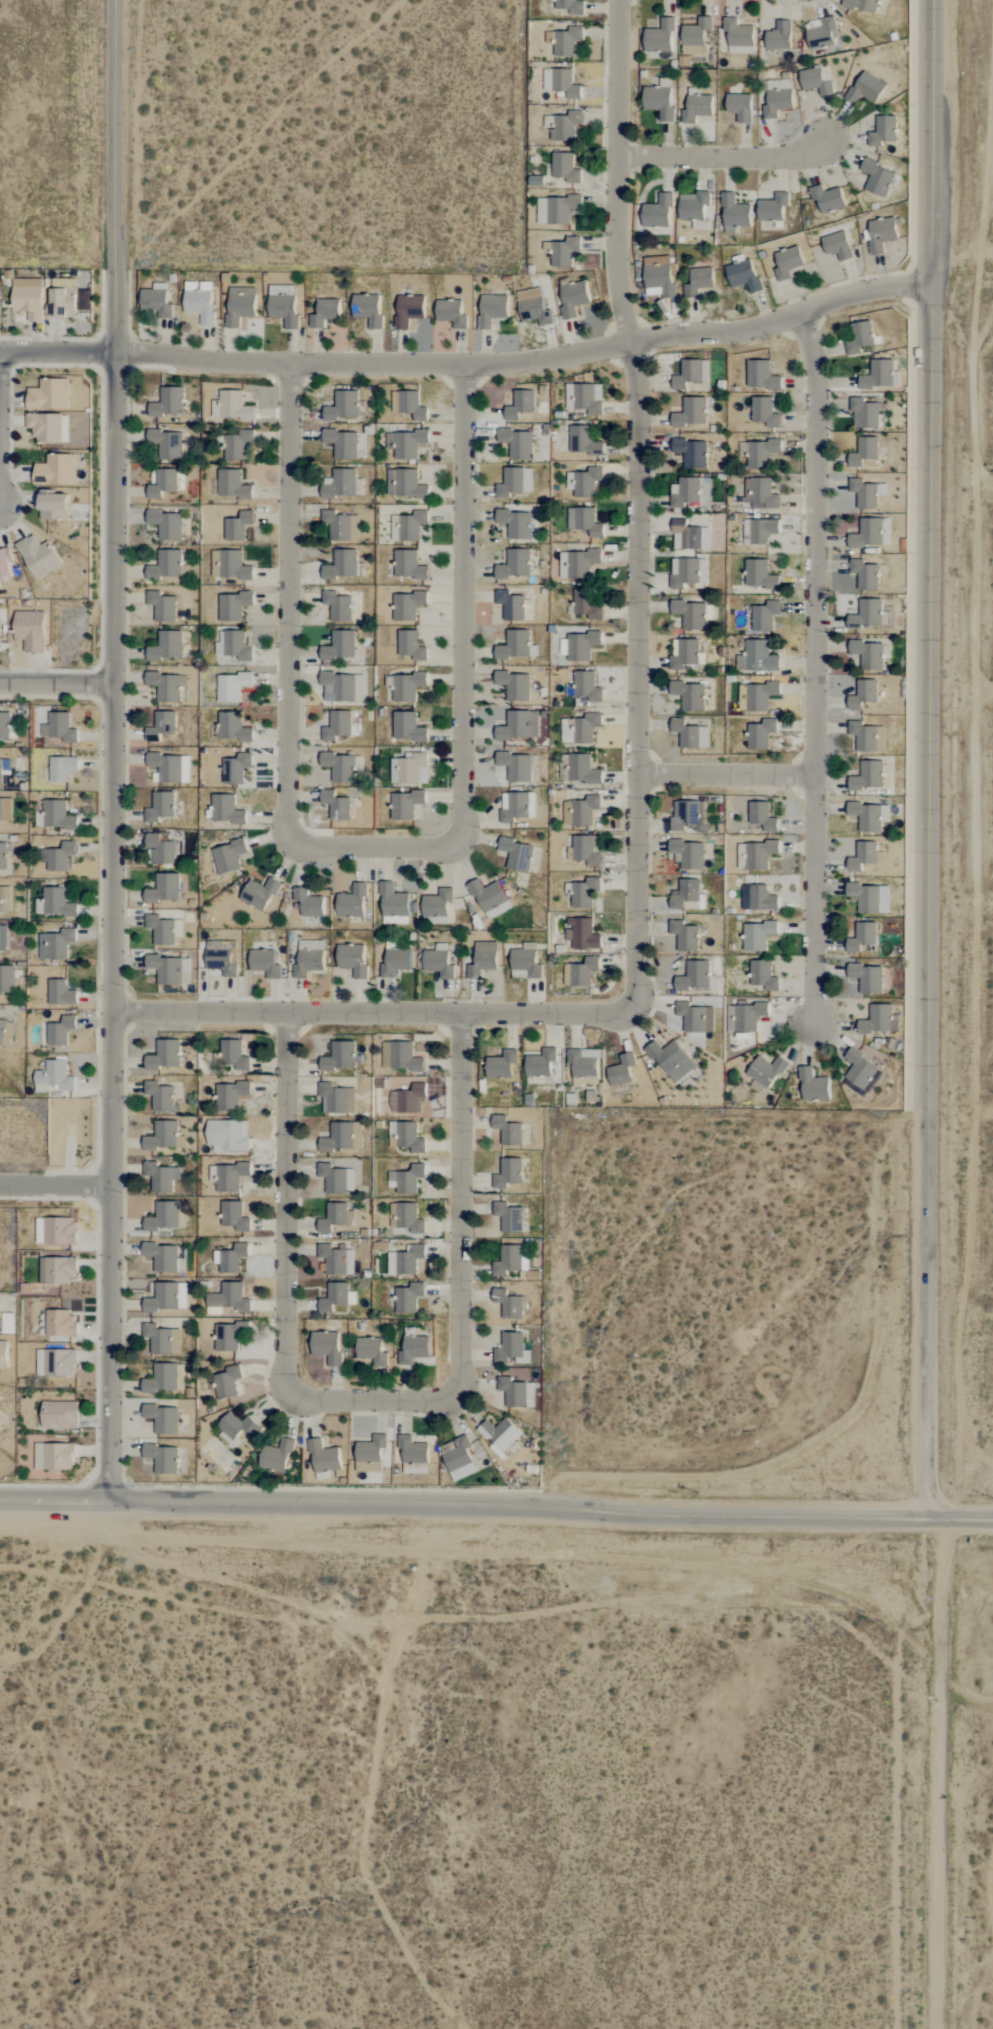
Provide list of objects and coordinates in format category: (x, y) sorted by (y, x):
building: (862, 5)
building: (570, 6)
building: (821, 33)
building: (738, 34)
building: (695, 36)
building: (779, 36)
building: (660, 37)
building: (567, 42)
building: (817, 80)
building: (561, 83)
building: (866, 89)
building: (778, 98)
building: (659, 102)
building: (740, 107)
building: (697, 108)
building: (564, 126)
building: (884, 131)
road: (726, 155)
building: (565, 168)
building: (877, 179)
building: (827, 199)
building: (773, 208)
building: (556, 210)
building: (658, 213)
building: (735, 214)
building: (880, 235)
building: (837, 246)
building: (563, 252)
building: (787, 263)
building: (743, 276)
building: (659, 278)
building: (698, 282)
building: (27, 298)
building: (62, 298)
building: (573, 299)
building: (156, 301)
building: (199, 302)
building: (283, 305)
building: (240, 306)
building: (533, 307)
building: (367, 310)
building: (409, 310)
building: (492, 310)
building: (324, 313)
building: (451, 314)
building: (859, 336)
road: (469, 362)
building: (688, 374)
building: (878, 374)
building: (761, 375)
building: (49, 394)
building: (585, 397)
building: (168, 402)
building: (394, 402)
building: (520, 404)
building: (412, 405)
building: (231, 406)
building: (343, 406)
building: (764, 411)
building: (690, 412)
building: (865, 413)
building: (46, 427)
road: (1, 428)
building: (583, 441)
building: (518, 442)
building: (167, 443)
building: (342, 443)
building: (405, 443)
building: (237, 445)
building: (864, 451)
building: (692, 452)
building: (760, 452)
building: (56, 470)
building: (515, 481)
building: (584, 481)
building: (162, 482)
building: (340, 483)
building: (232, 484)
building: (405, 484)
building: (760, 493)
building: (864, 493)
road: (634, 501)
building: (53, 505)
building: (584, 521)
building: (515, 523)
building: (166, 524)
building: (341, 525)
building: (238, 526)
building: (410, 526)
building: (759, 531)
building: (870, 533)
building: (686, 535)
building: (38, 556)
building: (5, 562)
building: (577, 563)
building: (515, 564)
building: (166, 565)
building: (230, 565)
building: (342, 565)
building: (408, 565)
building: (686, 572)
building: (759, 574)
building: (865, 574)
building: (588, 603)
building: (233, 605)
building: (408, 605)
building: (511, 605)
building: (162, 606)
building: (337, 606)
building: (867, 614)
building: (765, 615)
building: (691, 616)
building: (30, 630)
building: (235, 645)
building: (411, 645)
building: (515, 645)
building: (582, 645)
building: (166, 646)
building: (340, 646)
building: (685, 653)
building: (869, 654)
building: (757, 657)
road: (814, 667)
road: (59, 684)
building: (166, 685)
building: (515, 685)
building: (407, 686)
building: (587, 686)
building: (232, 687)
building: (343, 687)
building: (863, 694)
building: (689, 695)
building: (757, 696)
building: (161, 726)
building: (337, 726)
building: (514, 726)
building: (4, 727)
building: (59, 727)
building: (233, 727)
building: (407, 727)
building: (580, 729)
building: (761, 733)
building: (690, 734)
building: (864, 736)
road: (117, 750)
road: (928, 758)
building: (3, 766)
building: (339, 766)
building: (516, 766)
building: (171, 767)
building: (239, 767)
building: (61, 768)
building: (409, 769)
building: (582, 769)
road: (724, 772)
building: (869, 776)
building: (405, 804)
building: (336, 805)
building: (160, 807)
building: (5, 809)
building: (226, 809)
building: (582, 811)
building: (57, 815)
building: (688, 816)
building: (762, 816)
building: (870, 816)
road: (373, 846)
building: (160, 850)
building: (585, 851)
building: (517, 854)
building: (688, 854)
building: (3, 855)
building: (755, 855)
building: (228, 856)
building: (863, 856)
building: (58, 857)
building: (164, 888)
building: (585, 892)
building: (259, 894)
building: (688, 896)
building: (490, 898)
building: (762, 898)
building: (870, 898)
building: (5, 899)
building: (352, 902)
building: (55, 903)
building: (308, 903)
building: (437, 903)
road: (992, 903)
building: (393, 905)
building: (163, 929)
building: (582, 934)
building: (685, 935)
building: (758, 935)
building: (862, 937)
building: (3, 938)
building: (56, 944)
building: (309, 958)
building: (352, 959)
building: (483, 959)
building: (223, 961)
building: (439, 961)
building: (395, 962)
building: (265, 963)
building: (525, 963)
building: (169, 969)
building: (580, 972)
building: (763, 975)
building: (694, 977)
building: (867, 978)
building: (7, 979)
building: (60, 993)
road: (376, 1014)
building: (690, 1017)
building: (745, 1017)
building: (879, 1020)
building: (60, 1031)
building: (5, 1032)
building: (165, 1055)
building: (234, 1055)
building: (340, 1057)
building: (400, 1057)
building: (672, 1060)
building: (541, 1063)
building: (502, 1065)
building: (584, 1066)
building: (621, 1071)
building: (766, 1071)
building: (861, 1074)
building: (54, 1077)
building: (813, 1086)
building: (230, 1095)
building: (160, 1096)
building: (336, 1098)
building: (407, 1099)
building: (508, 1131)
building: (162, 1136)
building: (228, 1136)
building: (343, 1137)
building: (409, 1137)
building: (508, 1173)
building: (228, 1176)
building: (161, 1177)
building: (337, 1179)
building: (406, 1179)
road: (57, 1184)
building: (234, 1216)
building: (164, 1217)
building: (336, 1217)
building: (406, 1217)
building: (509, 1217)
building: (59, 1231)
building: (162, 1257)
building: (231, 1258)
building: (336, 1260)
building: (405, 1260)
building: (510, 1261)
building: (58, 1270)
building: (167, 1297)
building: (337, 1297)
building: (408, 1298)
building: (228, 1299)
building: (508, 1304)
building: (61, 1324)
building: (228, 1336)
building: (157, 1338)
building: (327, 1346)
building: (512, 1349)
building: (414, 1350)
building: (372, 1351)
building: (3, 1354)
building: (56, 1363)
building: (161, 1379)
building: (227, 1383)
building: (517, 1393)
road: (370, 1402)
building: (59, 1415)
building: (1, 1418)
building: (163, 1418)
building: (237, 1427)
building: (501, 1434)
building: (371, 1454)
building: (414, 1455)
building: (277, 1456)
building: (54, 1457)
building: (162, 1458)
building: (325, 1458)
building: (460, 1459)
street lamp: (97, 1465)
street lamp: (74, 1486)
street lamp: (133, 1487)
street lamp: (393, 1488)
road: (54, 1499)
road: (517, 1504)
road: (959, 1517)
road: (939, 1773)

